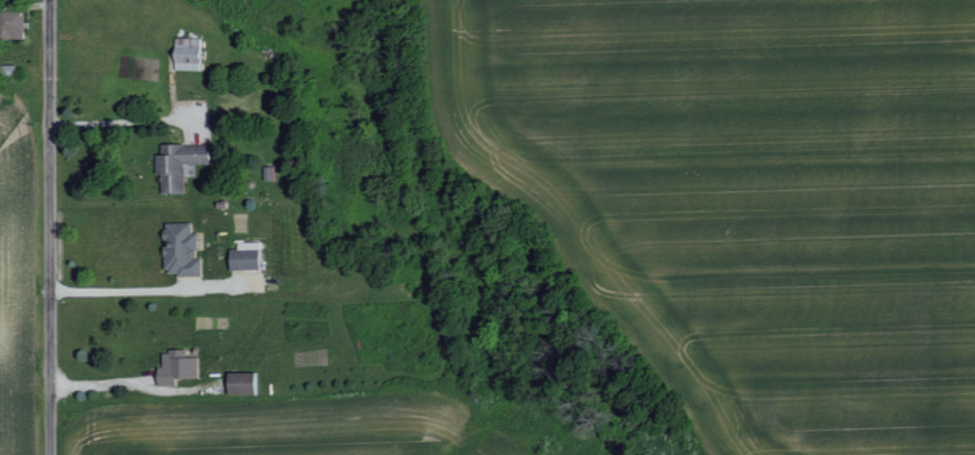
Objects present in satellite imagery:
building: (12, 22)
building: (188, 53)
road: (115, 121)
building: (179, 163)
building: (270, 172)
road: (41, 227)
building: (181, 249)
building: (246, 255)
road: (97, 292)
building: (177, 366)
road: (103, 382)
building: (242, 382)

